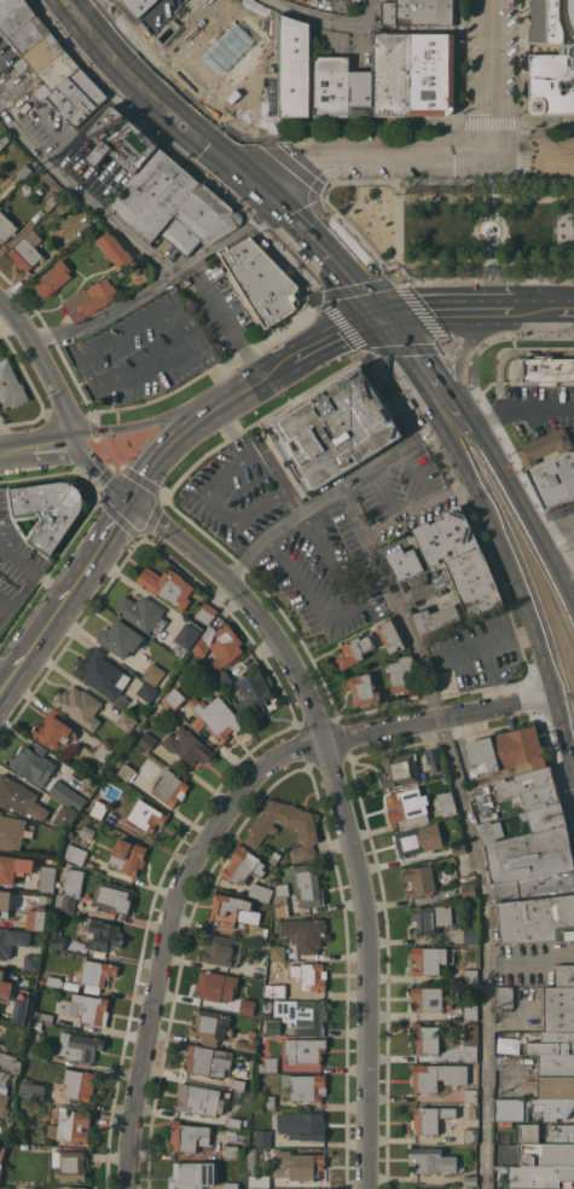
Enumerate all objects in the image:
building: (137, 6)
building: (416, 12)
building: (569, 13)
building: (12, 15)
road: (334, 19)
building: (543, 22)
building: (27, 35)
building: (41, 53)
building: (570, 57)
road: (458, 60)
road: (172, 63)
building: (291, 67)
building: (56, 70)
building: (389, 74)
building: (429, 74)
road: (492, 74)
building: (329, 86)
road: (523, 86)
building: (549, 86)
building: (359, 93)
road: (160, 96)
building: (75, 97)
road: (491, 121)
road: (347, 125)
building: (4, 138)
building: (117, 140)
road: (528, 140)
road: (174, 149)
road: (532, 150)
road: (573, 150)
road: (371, 152)
road: (285, 160)
parking lot: (435, 168)
building: (24, 171)
traffic signals: (257, 181)
road: (491, 181)
building: (151, 194)
road: (271, 194)
road: (81, 196)
building: (52, 198)
road: (480, 218)
building: (199, 220)
park: (464, 225)
building: (6, 226)
building: (83, 227)
fountain: (489, 231)
road: (358, 235)
road: (227, 239)
building: (114, 248)
building: (27, 250)
road: (337, 254)
road: (492, 262)
building: (52, 277)
road: (483, 281)
building: (259, 282)
road: (319, 296)
building: (89, 299)
road: (439, 306)
road: (523, 306)
road: (558, 306)
road: (569, 307)
traffic signals: (383, 312)
road: (103, 313)
road: (228, 321)
road: (471, 334)
road: (120, 335)
road: (336, 337)
road: (52, 341)
road: (450, 344)
road: (199, 347)
road: (173, 348)
road: (459, 352)
road: (509, 352)
road: (428, 362)
road: (44, 364)
road: (209, 368)
building: (546, 369)
road: (127, 374)
road: (91, 377)
building: (10, 385)
road: (253, 410)
road: (523, 410)
road: (489, 411)
road: (198, 417)
road: (50, 419)
road: (138, 423)
building: (338, 425)
road: (37, 444)
building: (543, 448)
road: (259, 458)
road: (98, 468)
road: (414, 468)
road: (88, 478)
building: (553, 479)
road: (378, 489)
road: (329, 492)
traffic signals: (129, 498)
road: (470, 506)
road: (523, 507)
building: (48, 508)
road: (219, 508)
road: (417, 510)
road: (153, 512)
road: (497, 536)
building: (442, 538)
building: (402, 565)
road: (29, 572)
building: (167, 585)
building: (471, 585)
road: (265, 593)
road: (64, 594)
road: (573, 595)
road: (343, 608)
building: (140, 611)
building: (207, 612)
building: (433, 623)
building: (187, 634)
building: (389, 634)
building: (121, 637)
building: (225, 645)
building: (354, 650)
building: (102, 673)
building: (153, 673)
building: (404, 675)
building: (222, 677)
building: (363, 688)
building: (146, 689)
building: (256, 693)
building: (175, 697)
road: (433, 697)
building: (79, 705)
building: (215, 716)
building: (126, 721)
road: (487, 728)
building: (53, 729)
building: (146, 740)
building: (187, 745)
building: (102, 751)
building: (505, 752)
building: (433, 755)
building: (33, 762)
building: (399, 770)
building: (127, 772)
building: (170, 786)
building: (530, 787)
building: (66, 793)
building: (105, 795)
building: (19, 797)
building: (447, 802)
building: (483, 804)
building: (408, 806)
road: (340, 807)
building: (98, 808)
building: (146, 814)
building: (64, 815)
road: (215, 826)
road: (466, 826)
building: (262, 830)
building: (11, 831)
building: (87, 831)
building: (417, 838)
building: (529, 843)
building: (458, 848)
building: (75, 853)
building: (127, 855)
building: (274, 858)
building: (242, 864)
building: (13, 866)
building: (46, 878)
building: (419, 878)
building: (308, 883)
building: (535, 888)
building: (69, 889)
building: (468, 889)
building: (260, 891)
building: (112, 896)
building: (5, 899)
building: (280, 899)
building: (232, 910)
building: (36, 918)
building: (431, 918)
building: (537, 919)
building: (257, 930)
building: (303, 933)
building: (470, 934)
building: (103, 935)
building: (56, 939)
building: (12, 940)
building: (221, 950)
building: (277, 951)
building: (429, 959)
building: (471, 960)
building: (31, 962)
building: (97, 971)
building: (309, 975)
building: (469, 975)
building: (564, 975)
building: (50, 980)
building: (215, 985)
building: (5, 987)
building: (276, 989)
building: (504, 997)
building: (428, 998)
building: (247, 1005)
building: (267, 1005)
building: (87, 1008)
building: (558, 1008)
building: (28, 1011)
building: (470, 1011)
building: (302, 1014)
building: (209, 1024)
building: (273, 1026)
building: (425, 1037)
building: (469, 1041)
building: (248, 1043)
building: (552, 1043)
building: (506, 1044)
building: (80, 1046)
building: (305, 1049)
building: (35, 1052)
building: (208, 1060)
building: (10, 1061)
building: (267, 1063)
building: (556, 1064)
building: (437, 1075)
building: (77, 1083)
building: (238, 1083)
building: (305, 1085)
building: (555, 1086)
building: (31, 1089)
building: (470, 1095)
building: (196, 1098)
building: (4, 1101)
building: (267, 1101)
building: (21, 1102)
building: (533, 1108)
building: (472, 1112)
building: (430, 1118)
building: (233, 1121)
building: (70, 1125)
building: (305, 1125)
building: (559, 1131)
building: (189, 1135)
building: (470, 1135)
building: (262, 1137)
building: (1, 1149)
building: (231, 1152)
building: (547, 1154)
building: (251, 1159)
building: (433, 1160)
building: (68, 1164)
building: (297, 1164)
building: (192, 1174)
building: (538, 1176)
building: (468, 1178)
building: (259, 1181)
building: (231, 1184)
building: (469, 1187)
building: (75, 1188)
building: (416, 1188)

